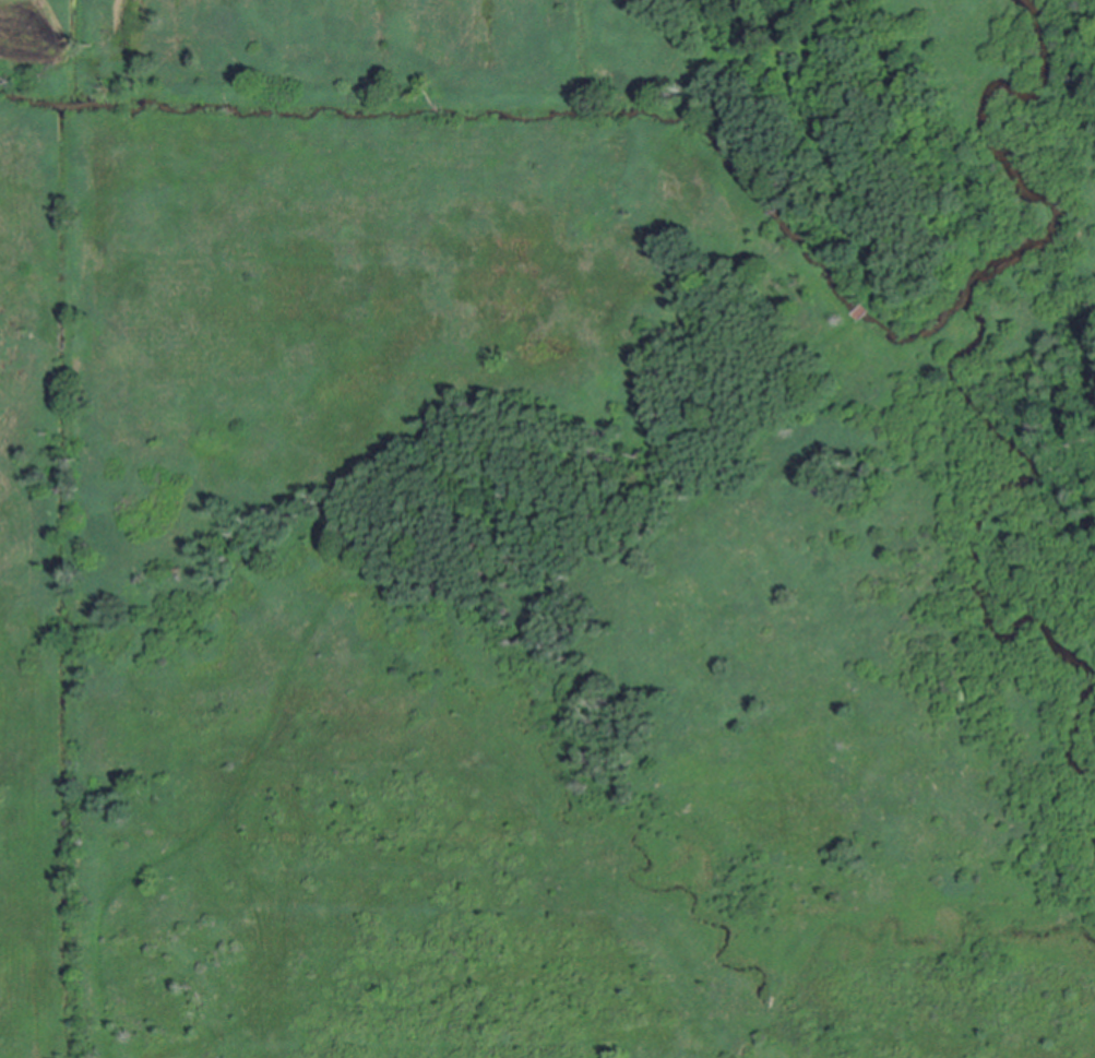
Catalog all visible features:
river: (726, 153)

